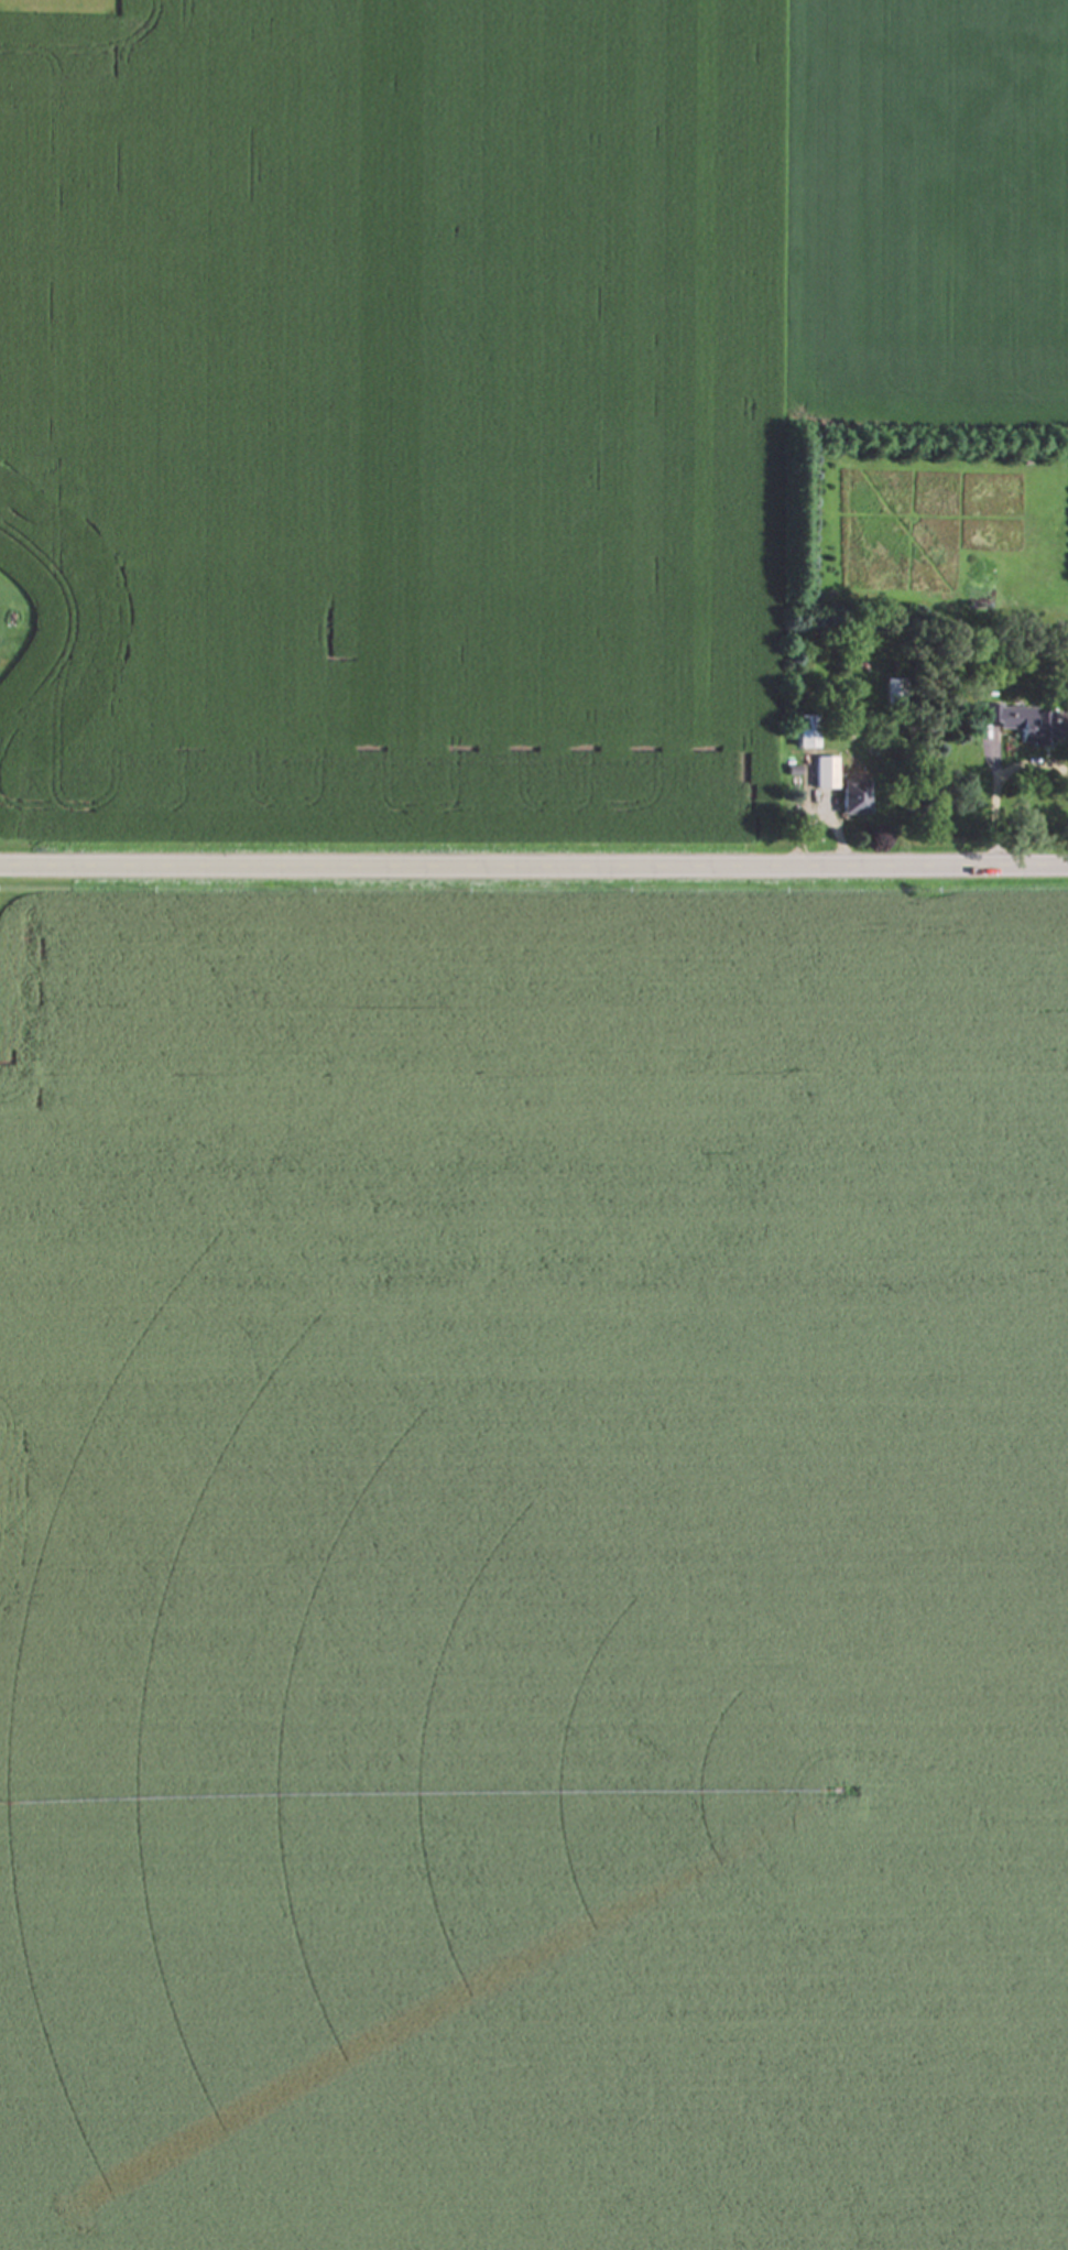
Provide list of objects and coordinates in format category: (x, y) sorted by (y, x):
crop: (927, 203)
crop: (393, 417)
road: (995, 789)
road: (534, 877)
crop: (534, 1563)

